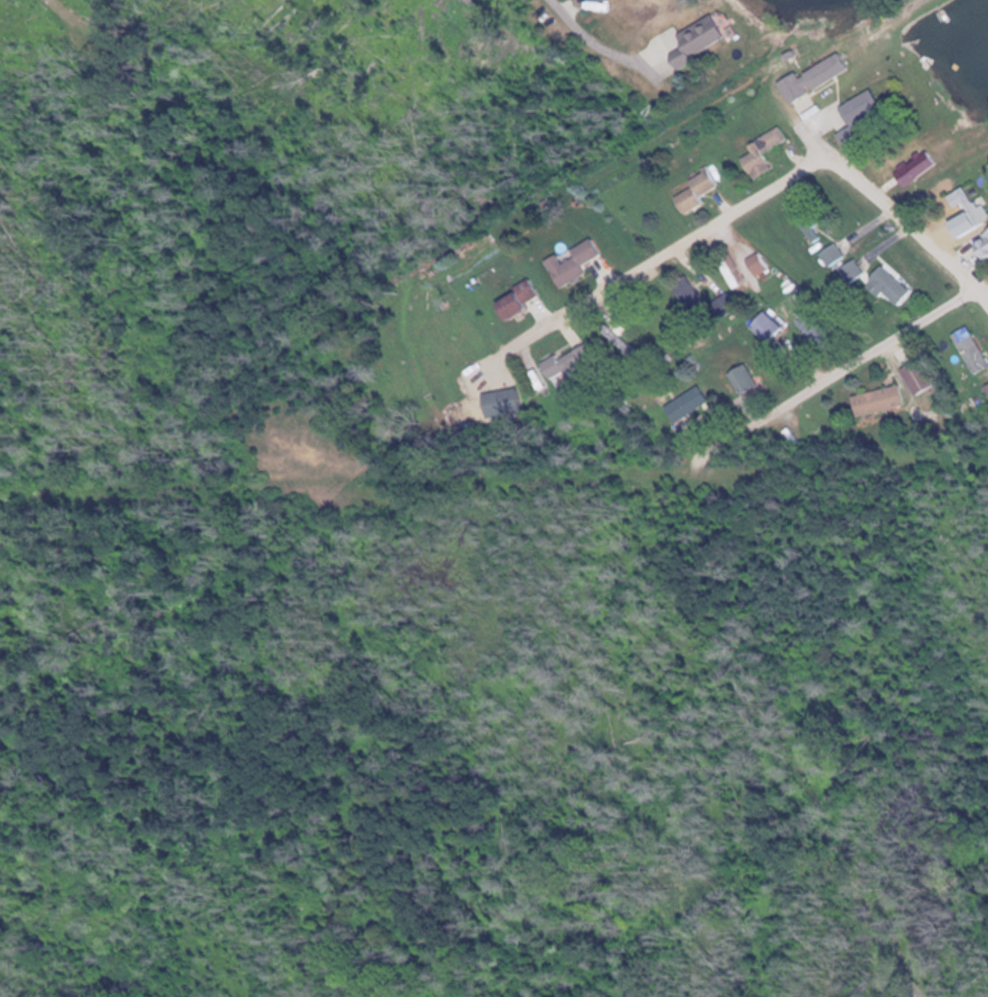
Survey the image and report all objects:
building: (697, 39)
road: (595, 42)
building: (814, 76)
building: (857, 115)
building: (760, 153)
building: (915, 168)
building: (697, 191)
building: (968, 207)
road: (897, 209)
building: (809, 226)
building: (981, 244)
road: (670, 248)
building: (832, 254)
building: (574, 263)
building: (852, 271)
building: (887, 285)
building: (688, 294)
building: (516, 299)
building: (765, 326)
road: (864, 350)
building: (971, 350)
building: (565, 364)
building: (743, 379)
building: (986, 388)
building: (877, 400)
building: (503, 402)
building: (686, 405)
park: (798, 833)

